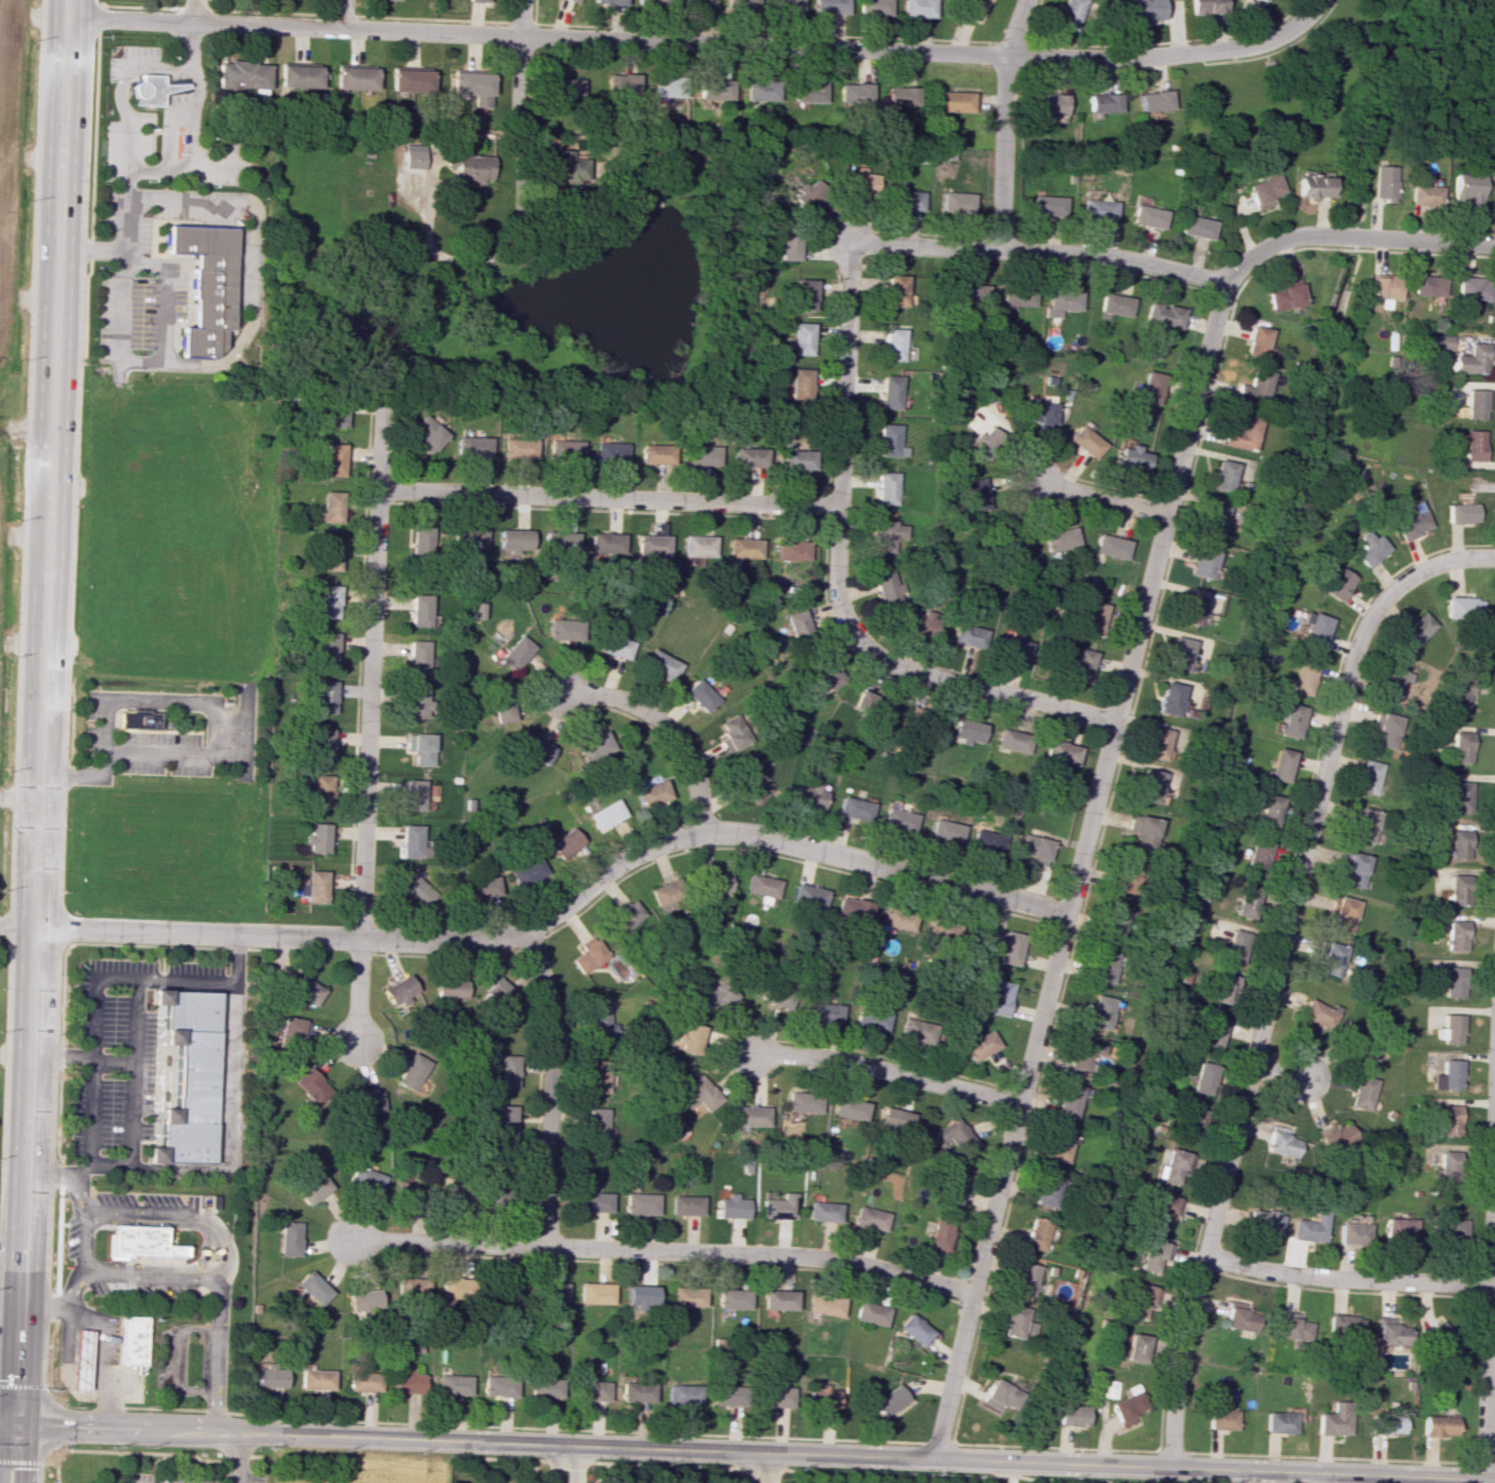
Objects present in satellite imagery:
building: (478, 0)
building: (575, 0)
building: (1260, 0)
building: (614, 3)
building: (654, 3)
building: (698, 3)
building: (743, 4)
building: (790, 5)
building: (832, 6)
building: (876, 7)
building: (974, 7)
building: (1206, 7)
building: (920, 8)
building: (1145, 9)
road: (194, 11)
building: (1070, 13)
road: (342, 14)
road: (698, 43)
road: (519, 65)
building: (241, 74)
building: (298, 76)
building: (353, 78)
park: (1354, 79)
building: (409, 80)
building: (622, 83)
building: (564, 85)
building: (472, 86)
building: (668, 86)
building: (716, 89)
building: (761, 89)
building: (148, 90)
building: (808, 91)
building: (855, 93)
building: (901, 95)
building: (1153, 100)
building: (952, 101)
road: (119, 102)
building: (1102, 103)
building: (1046, 104)
road: (1003, 122)
road: (168, 131)
crop: (6, 147)
building: (413, 156)
building: (563, 166)
building: (472, 167)
road: (146, 168)
building: (861, 181)
building: (1383, 182)
building: (1310, 186)
building: (1467, 188)
building: (1262, 190)
building: (811, 194)
building: (1423, 194)
building: (906, 200)
building: (956, 202)
building: (1046, 206)
building: (1095, 209)
building: (1144, 216)
building: (1194, 227)
road: (1421, 242)
building: (788, 244)
road: (88, 252)
road: (1092, 255)
building: (1380, 285)
building: (1426, 285)
building: (204, 287)
building: (1471, 288)
road: (164, 290)
building: (894, 290)
building: (803, 293)
building: (968, 293)
building: (1016, 296)
building: (1280, 297)
building: (1060, 301)
building: (1113, 306)
road: (250, 307)
building: (1161, 315)
building: (801, 338)
building: (1442, 342)
building: (1253, 343)
building: (891, 344)
building: (1266, 353)
building: (1470, 358)
building: (799, 383)
building: (1147, 388)
building: (1253, 389)
building: (889, 392)
building: (1473, 404)
building: (1038, 413)
building: (334, 416)
building: (1241, 432)
building: (426, 434)
building: (889, 441)
building: (1084, 441)
building: (1473, 444)
building: (471, 446)
building: (517, 446)
building: (563, 449)
building: (608, 451)
building: (655, 454)
building: (700, 455)
building: (747, 457)
building: (1130, 457)
building: (332, 459)
building: (795, 459)
building: (1216, 477)
building: (886, 487)
building: (976, 494)
road: (608, 498)
road: (1099, 498)
building: (330, 506)
building: (1458, 510)
building: (1210, 518)
building: (1408, 520)
building: (886, 536)
building: (468, 537)
building: (1059, 539)
building: (419, 540)
building: (513, 541)
building: (560, 541)
building: (605, 544)
building: (651, 545)
building: (697, 545)
building: (1109, 546)
building: (743, 547)
building: (1367, 549)
building: (791, 550)
building: (330, 553)
building: (1193, 564)
building: (1333, 582)
building: (887, 588)
road: (836, 592)
building: (328, 601)
building: (1466, 604)
building: (1186, 609)
building: (419, 610)
building: (479, 610)
building: (1092, 617)
building: (919, 622)
building: (797, 625)
building: (1418, 627)
building: (1311, 628)
building: (564, 629)
building: (967, 636)
building: (614, 646)
building: (1011, 647)
building: (325, 648)
building: (516, 652)
building: (1174, 655)
building: (416, 656)
building: (659, 665)
building: (1081, 665)
building: (827, 674)
building: (1298, 676)
building: (1393, 683)
building: (699, 695)
building: (324, 696)
building: (1162, 698)
building: (863, 699)
building: (1461, 700)
building: (415, 702)
parking lot: (90, 705)
building: (502, 706)
building: (883, 708)
road: (369, 718)
building: (1288, 718)
building: (135, 719)
road: (665, 726)
building: (1389, 729)
building: (966, 731)
building: (733, 733)
road: (224, 738)
parking lot: (88, 740)
road: (41, 741)
building: (1011, 741)
building: (1151, 741)
building: (323, 742)
building: (419, 747)
building: (593, 747)
building: (1460, 747)
building: (534, 750)
building: (1060, 752)
parking lot: (160, 754)
building: (1278, 760)
building: (1368, 775)
building: (1147, 784)
building: (753, 786)
building: (320, 790)
building: (651, 793)
building: (412, 794)
building: (808, 795)
building: (1459, 795)
building: (852, 809)
building: (1266, 810)
building: (605, 814)
building: (897, 820)
building: (1363, 822)
building: (944, 831)
building: (1137, 833)
building: (317, 837)
building: (411, 841)
building: (985, 841)
building: (1459, 841)
building: (562, 842)
building: (1034, 848)
building: (1254, 851)
building: (1350, 869)
building: (526, 871)
road: (1076, 872)
building: (1120, 876)
building: (719, 883)
building: (314, 886)
building: (480, 887)
building: (762, 887)
building: (1454, 888)
building: (415, 890)
building: (671, 894)
building: (808, 895)
building: (1245, 904)
road: (562, 906)
building: (851, 910)
building: (1340, 912)
building: (626, 917)
building: (896, 919)
building: (1109, 920)
road: (17, 927)
building: (935, 930)
building: (1454, 934)
building: (1010, 948)
building: (1237, 950)
building: (588, 956)
building: (1330, 958)
building: (1097, 965)
road: (1275, 969)
building: (1452, 980)
building: (398, 989)
building: (306, 990)
building: (450, 990)
building: (716, 993)
building: (1227, 994)
building: (499, 995)
building: (998, 997)
road: (93, 998)
building: (777, 999)
building: (1091, 1010)
building: (824, 1011)
building: (1315, 1013)
building: (871, 1020)
building: (1451, 1027)
building: (294, 1029)
building: (916, 1031)
building: (1216, 1035)
building: (691, 1039)
building: (1354, 1041)
building: (980, 1045)
parking lot: (121, 1047)
building: (1076, 1058)
road: (81, 1062)
road: (132, 1071)
building: (507, 1071)
building: (411, 1072)
road: (885, 1072)
building: (1449, 1072)
road: (1278, 1074)
building: (183, 1076)
building: (597, 1076)
building: (1203, 1084)
building: (312, 1085)
road: (550, 1087)
building: (1362, 1091)
building: (697, 1094)
building: (1065, 1099)
building: (801, 1102)
building: (369, 1103)
building: (849, 1108)
building: (749, 1116)
building: (505, 1119)
building: (1448, 1119)
building: (894, 1120)
building: (595, 1123)
road: (228, 1133)
building: (1338, 1135)
building: (954, 1136)
building: (1280, 1142)
building: (1053, 1146)
building: (1446, 1164)
building: (1177, 1171)
road: (64, 1176)
building: (364, 1178)
building: (951, 1186)
building: (406, 1187)
building: (312, 1188)
building: (1042, 1190)
building: (454, 1196)
building: (592, 1201)
building: (639, 1203)
building: (685, 1205)
building: (730, 1206)
building: (778, 1206)
building: (823, 1211)
road: (186, 1214)
building: (1167, 1216)
building: (869, 1218)
building: (1264, 1221)
building: (1308, 1227)
building: (1398, 1227)
building: (1446, 1229)
building: (1032, 1230)
building: (1350, 1232)
building: (940, 1233)
building: (133, 1238)
building: (287, 1238)
road: (663, 1251)
building: (1153, 1258)
building: (1022, 1277)
road: (1345, 1280)
building: (311, 1287)
building: (410, 1287)
building: (451, 1288)
road: (72, 1289)
building: (551, 1291)
road: (1488, 1291)
building: (593, 1293)
building: (639, 1296)
building: (685, 1296)
building: (731, 1298)
building: (777, 1299)
building: (1142, 1299)
building: (361, 1301)
building: (823, 1304)
building: (722, 1312)
building: (869, 1313)
building: (1241, 1321)
building: (1014, 1326)
building: (914, 1329)
building: (1345, 1329)
building: (1293, 1330)
road: (99, 1333)
building: (1388, 1334)
building: (1439, 1338)
building: (129, 1340)
road: (216, 1342)
building: (1138, 1352)
building: (75, 1357)
gas station: (75, 1357)
road: (175, 1360)
building: (269, 1375)
building: (314, 1379)
building: (361, 1381)
building: (406, 1382)
building: (452, 1384)
building: (498, 1385)
road: (22, 1387)
building: (1107, 1388)
building: (586, 1390)
building: (639, 1392)
building: (681, 1394)
road: (52, 1395)
building: (725, 1395)
building: (773, 1396)
building: (998, 1396)
building: (820, 1397)
building: (887, 1400)
road: (161, 1409)
building: (1128, 1410)
building: (1068, 1414)
road: (8, 1420)
traffic signals: (17, 1421)
building: (1383, 1422)
building: (1224, 1425)
building: (1282, 1425)
road: (55, 1428)
building: (1339, 1428)
building: (1432, 1430)
road: (474, 1442)
road: (133, 1452)
road: (233, 1457)
road: (21, 1461)
road: (148, 1462)
road: (555, 1464)
road: (575, 1465)
road: (746, 1467)
road: (765, 1467)
road: (54, 1468)
road: (1213, 1470)
parking lot: (164, 1478)
parking lot: (256, 1478)
parking lot: (109, 1480)

